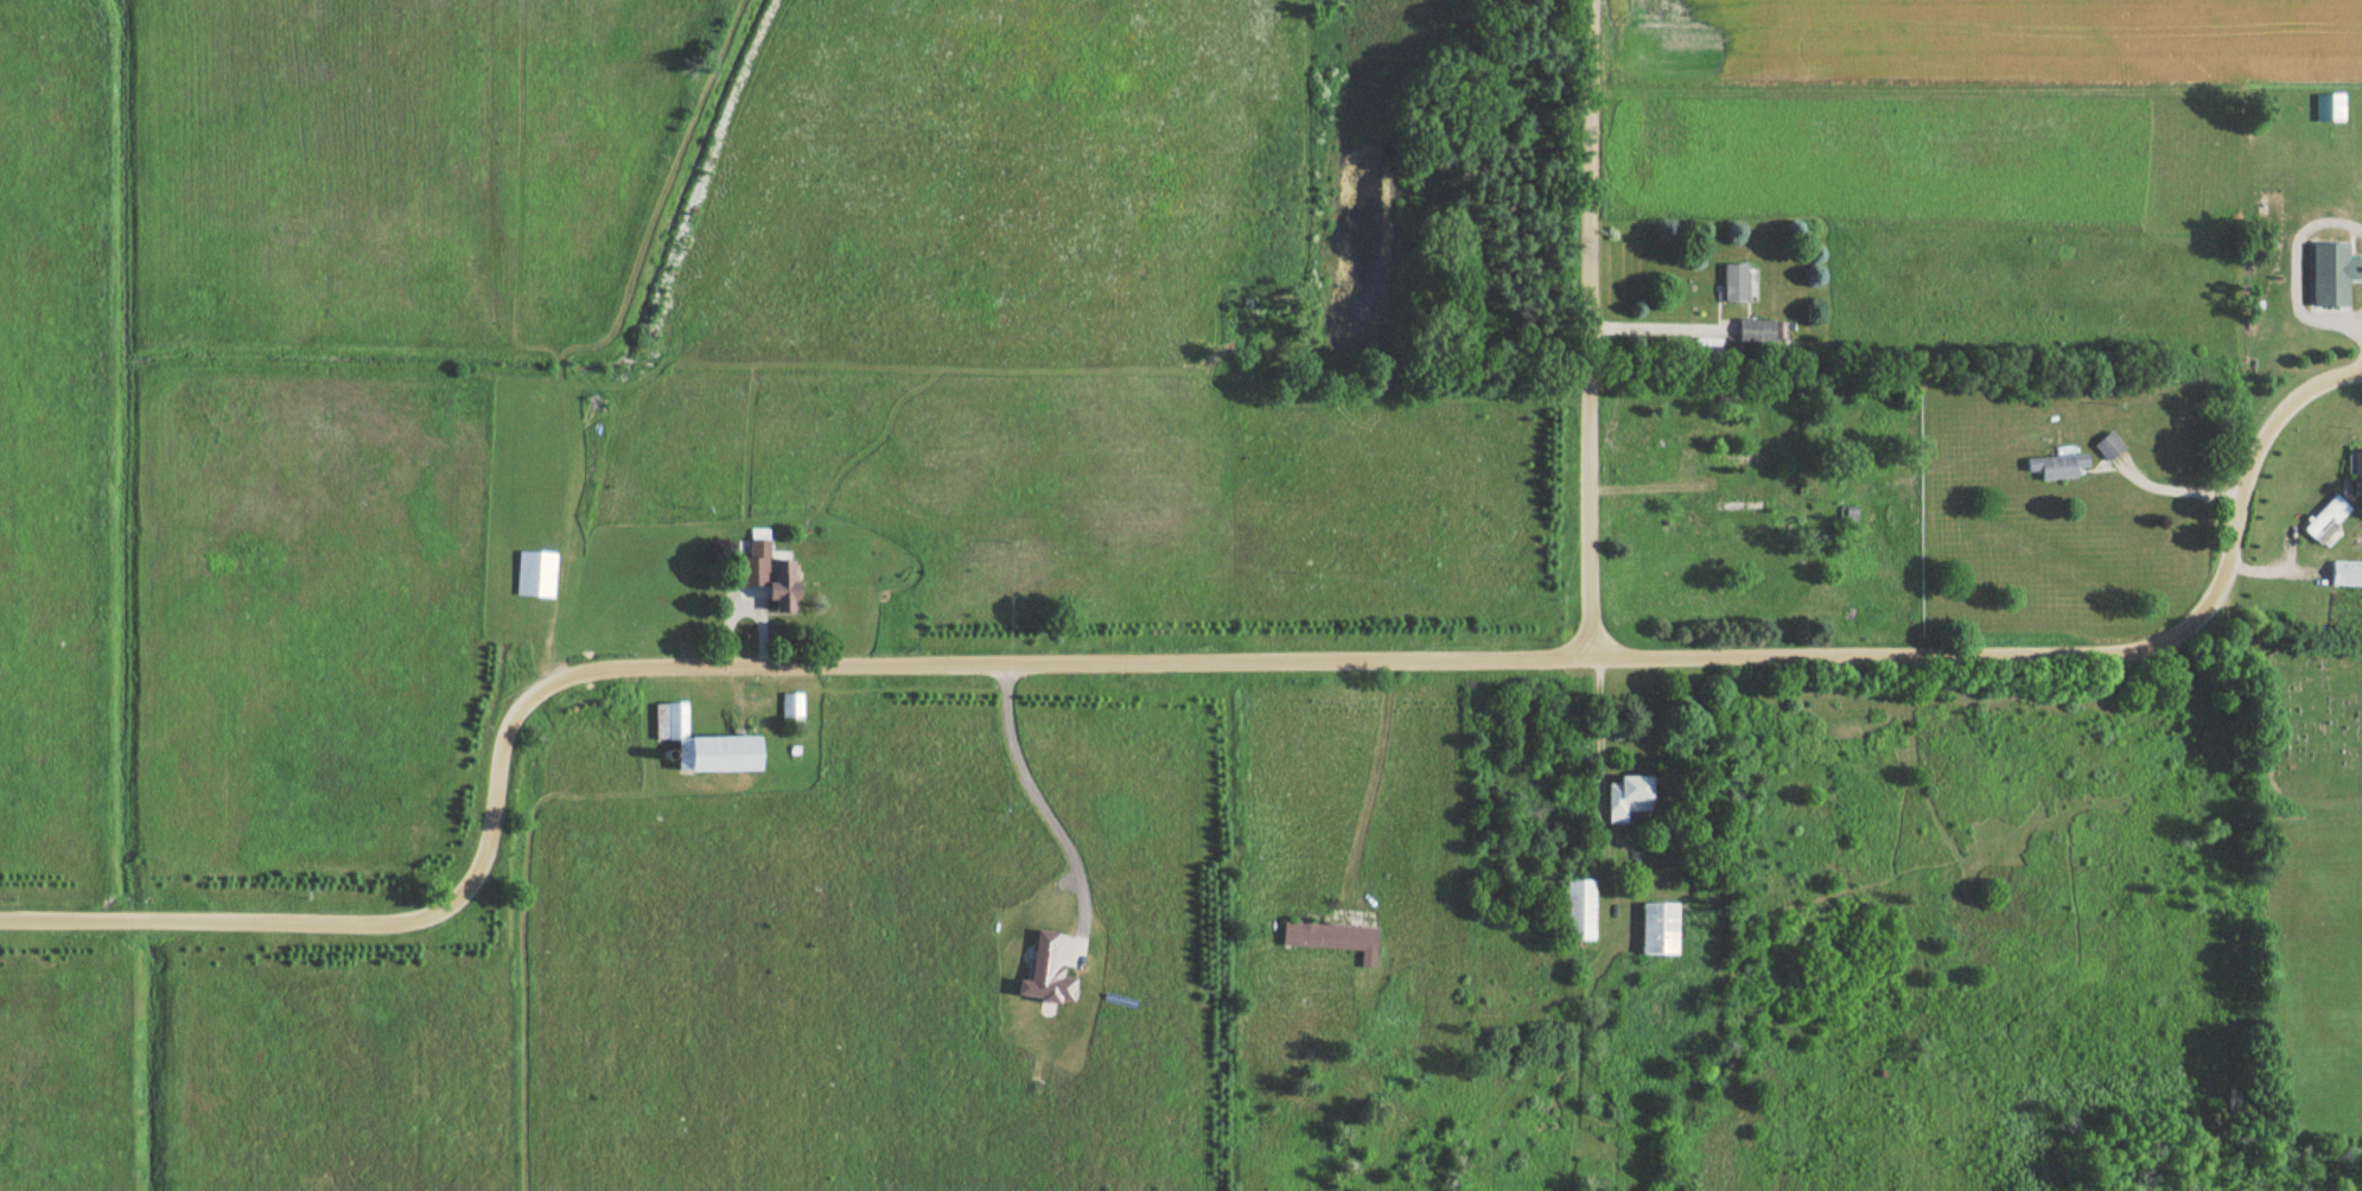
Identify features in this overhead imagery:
building: (2331, 274)
building: (1736, 282)
road: (1592, 326)
road: (1655, 329)
building: (1756, 332)
building: (2109, 446)
building: (2057, 466)
building: (2356, 471)
road: (2173, 491)
building: (760, 548)
building: (536, 574)
building: (2345, 574)
building: (781, 585)
road: (1182, 660)
building: (791, 708)
park: (2304, 730)
building: (702, 745)
road: (1364, 775)
road: (1032, 798)
building: (1626, 798)
road: (1594, 816)
building: (1579, 910)
building: (1657, 930)
building: (1333, 940)

